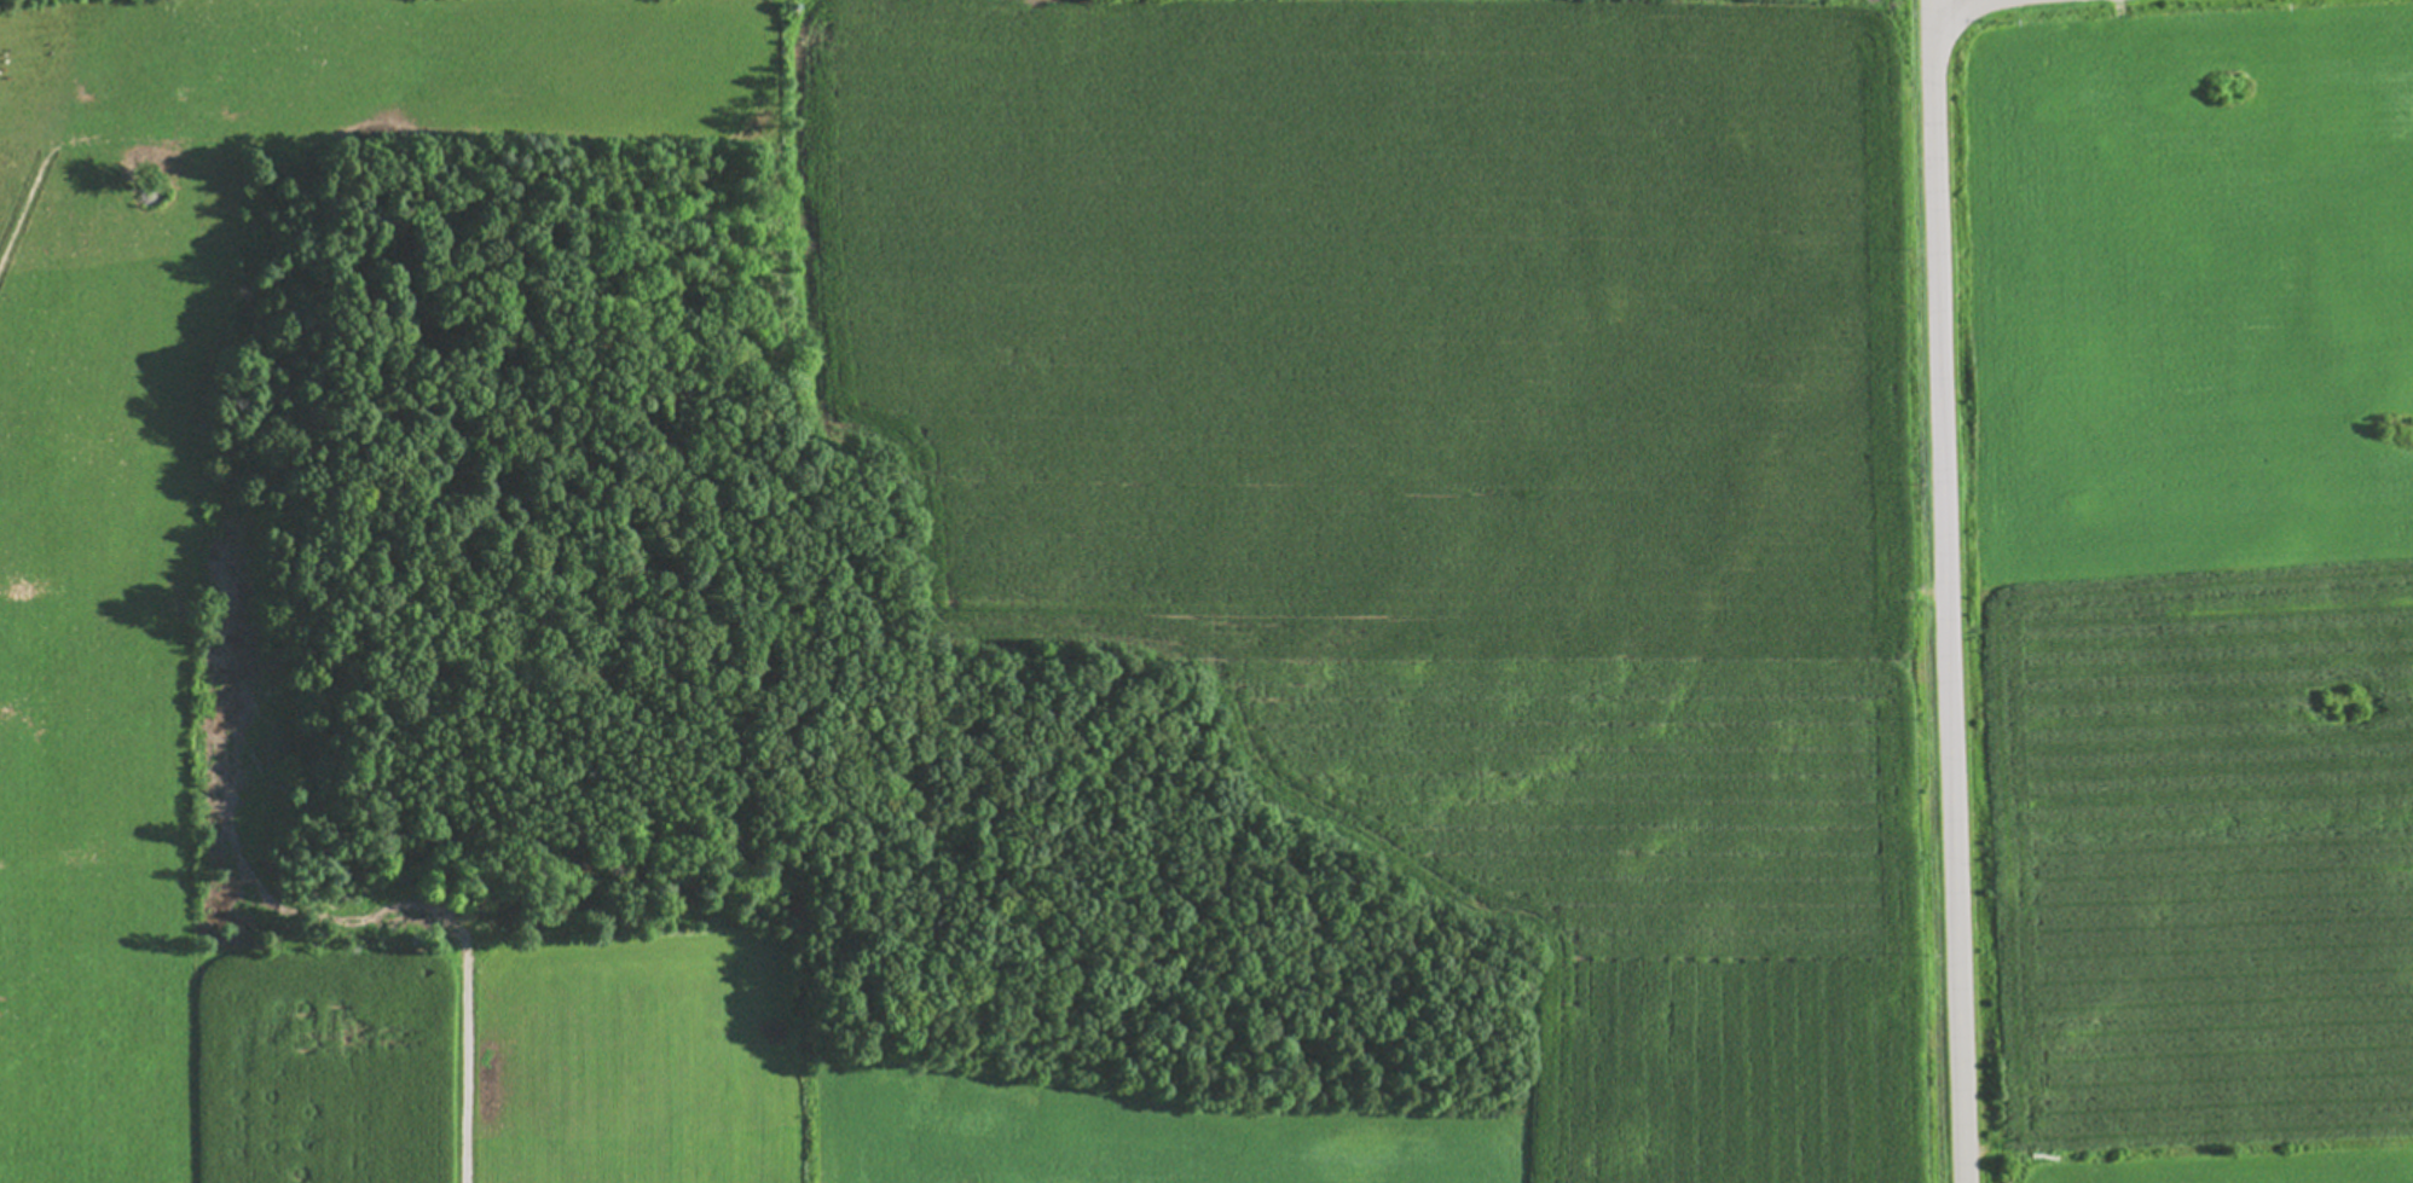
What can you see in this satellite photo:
road: (1944, 591)

